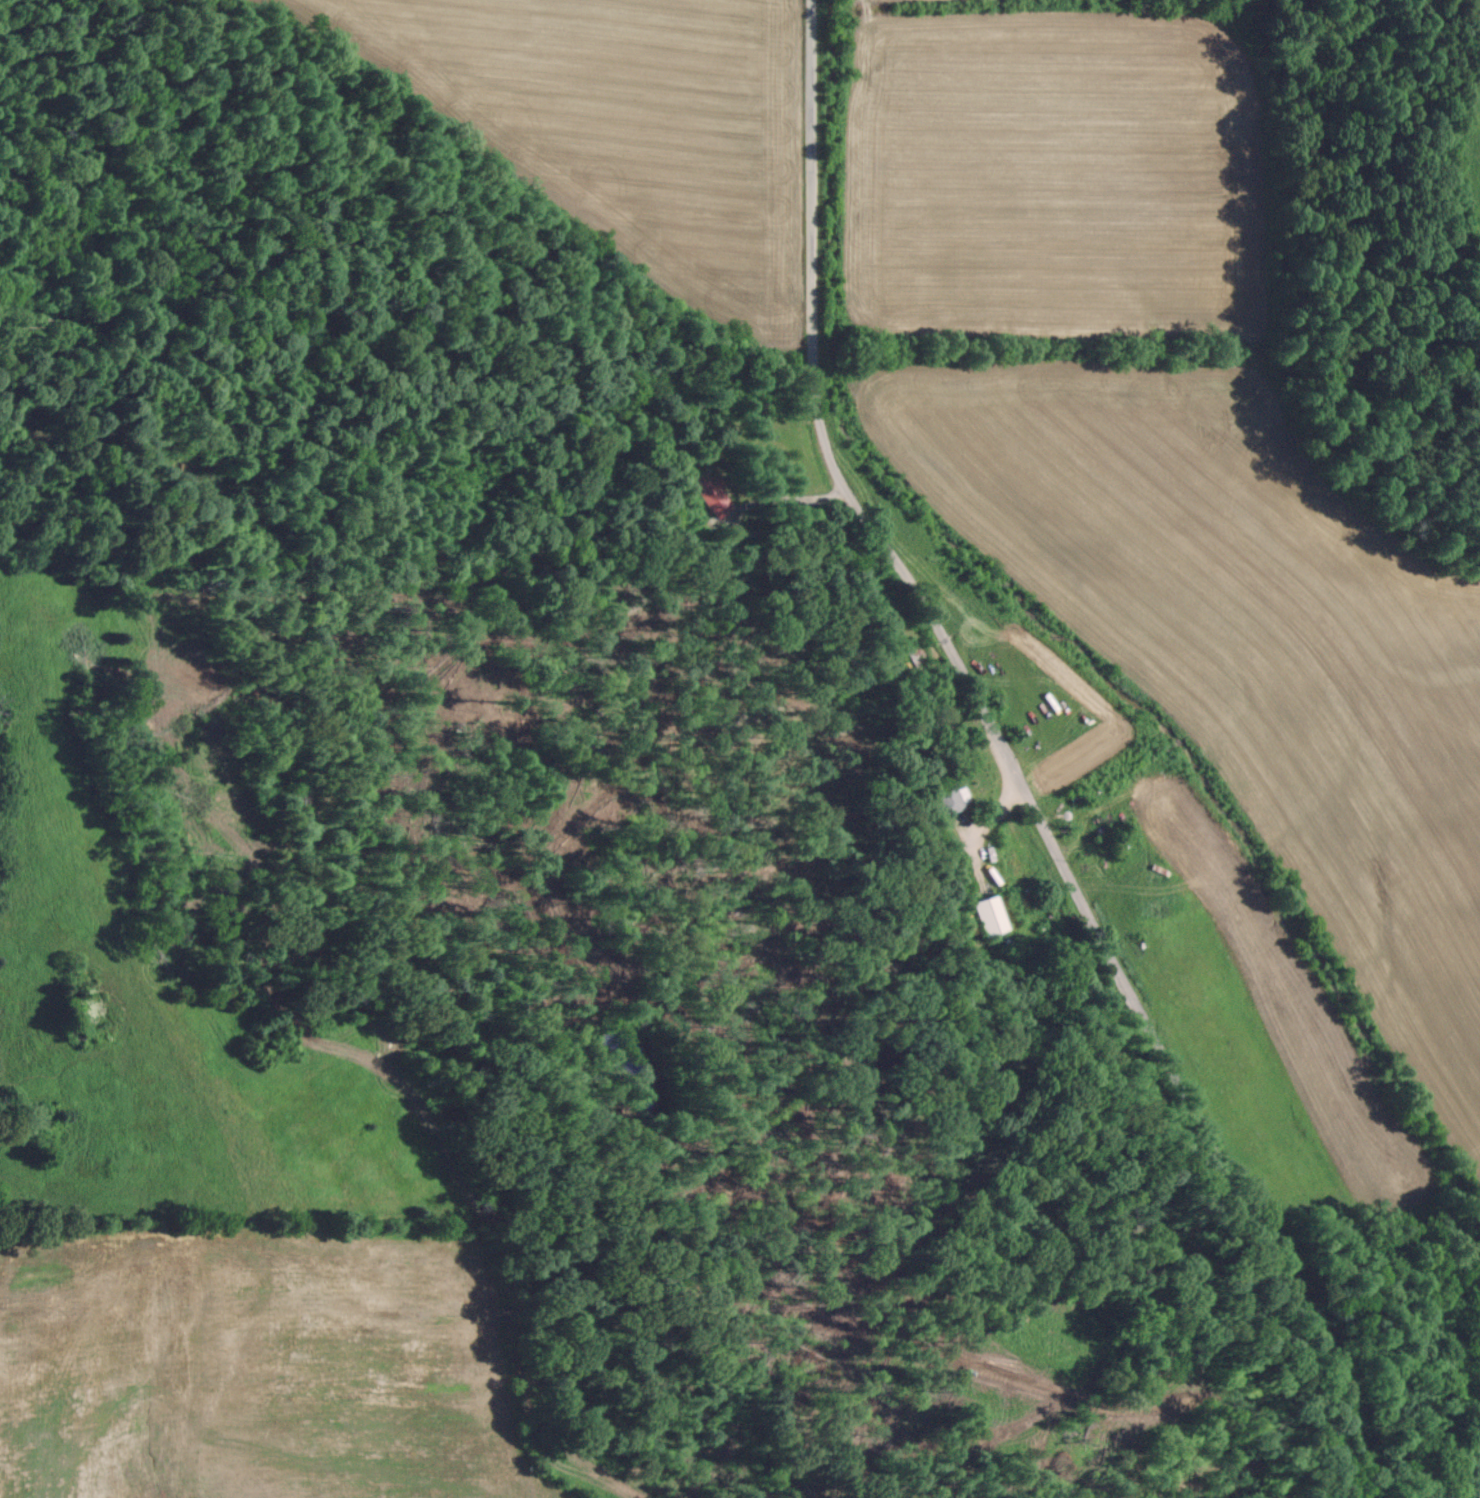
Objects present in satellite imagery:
building: (710, 493)
road: (733, 509)
building: (912, 652)
road: (1009, 763)
building: (948, 797)
building: (987, 915)

